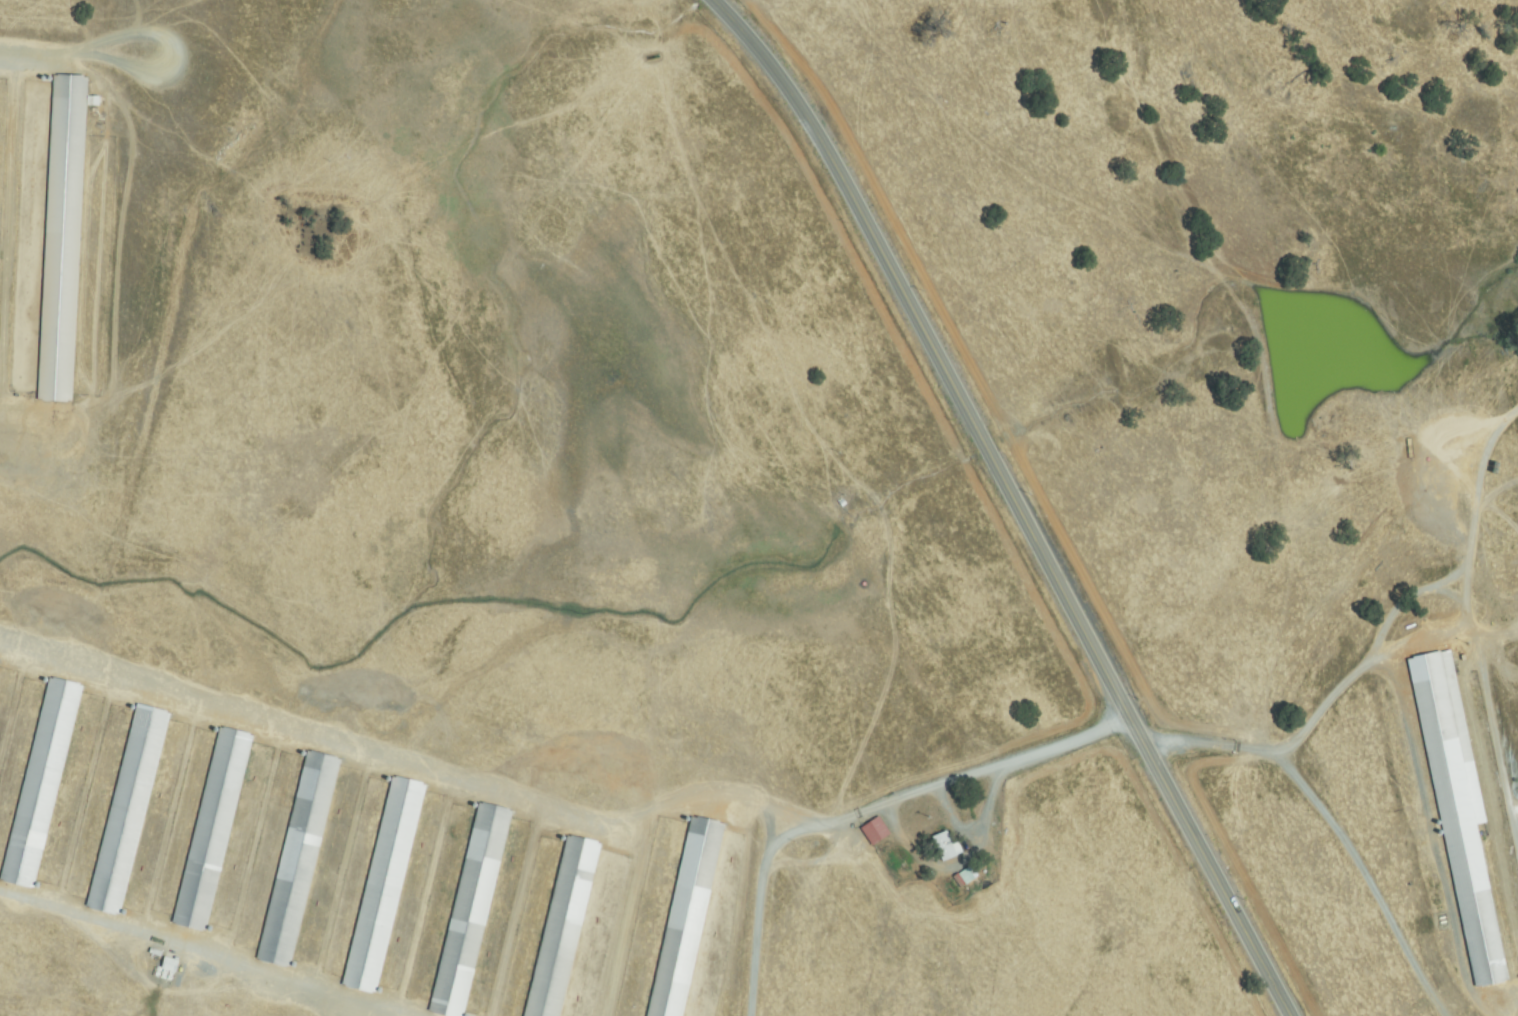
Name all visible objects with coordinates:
building: (63, 238)
building: (1494, 468)
road: (1009, 500)
building: (842, 503)
road: (1282, 752)
building: (41, 782)
road: (864, 806)
building: (128, 810)
building: (1458, 820)
building: (213, 829)
building: (876, 829)
building: (946, 847)
building: (298, 859)
building: (969, 876)
building: (384, 885)
building: (471, 911)
building: (686, 918)
building: (563, 928)
road: (220, 954)
building: (171, 964)

